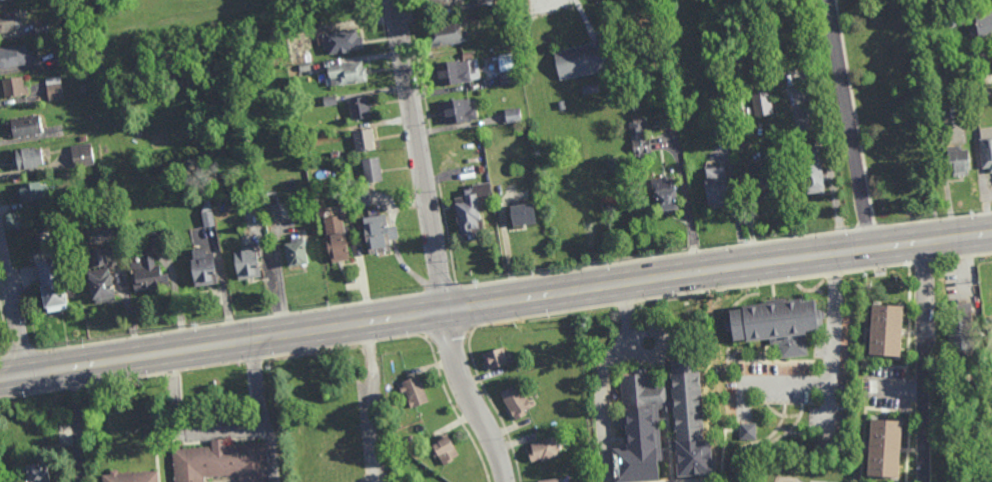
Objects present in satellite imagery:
building: (1, 0)
building: (436, 3)
building: (484, 4)
building: (484, 14)
road: (586, 16)
building: (965, 16)
building: (9, 21)
building: (746, 26)
building: (984, 27)
building: (49, 28)
building: (446, 34)
building: (341, 43)
building: (67, 53)
building: (15, 57)
building: (968, 57)
building: (582, 59)
building: (507, 67)
building: (60, 71)
building: (455, 72)
building: (348, 73)
building: (15, 87)
building: (55, 87)
building: (590, 89)
building: (330, 100)
building: (80, 103)
building: (561, 104)
building: (762, 104)
building: (359, 108)
building: (957, 109)
building: (456, 111)
building: (801, 114)
building: (513, 115)
building: (89, 117)
road: (847, 124)
building: (25, 126)
building: (720, 127)
building: (639, 136)
building: (84, 138)
building: (363, 140)
building: (105, 148)
building: (986, 152)
building: (82, 155)
building: (334, 155)
road: (421, 155)
building: (28, 159)
building: (957, 161)
building: (617, 163)
building: (371, 170)
building: (813, 174)
building: (768, 175)
building: (355, 182)
building: (717, 187)
building: (35, 192)
building: (94, 192)
building: (664, 194)
building: (68, 195)
building: (353, 199)
road: (687, 204)
building: (277, 208)
building: (569, 210)
power tower: (975, 210)
building: (471, 211)
building: (523, 215)
building: (209, 220)
power tower: (845, 227)
building: (379, 235)
building: (336, 240)
power tower: (745, 242)
building: (298, 252)
building: (96, 259)
power tower: (607, 261)
building: (249, 265)
building: (149, 266)
building: (205, 268)
building: (51, 284)
power tower: (472, 284)
building: (102, 285)
power tower: (870, 285)
road: (495, 303)
power tower: (328, 304)
road: (14, 307)
building: (777, 324)
power tower: (197, 325)
building: (887, 329)
building: (959, 332)
building: (728, 334)
power tower: (97, 340)
road: (833, 344)
building: (496, 360)
road: (923, 361)
road: (602, 379)
building: (744, 380)
road: (768, 386)
building: (851, 389)
road: (897, 390)
building: (414, 392)
road: (467, 398)
road: (372, 402)
building: (662, 402)
building: (514, 404)
building: (966, 404)
road: (260, 412)
road: (77, 425)
building: (748, 431)
road: (182, 432)
building: (885, 447)
building: (540, 451)
building: (443, 452)
building: (332, 461)
building: (221, 463)
building: (36, 474)
building: (127, 477)
building: (547, 480)

